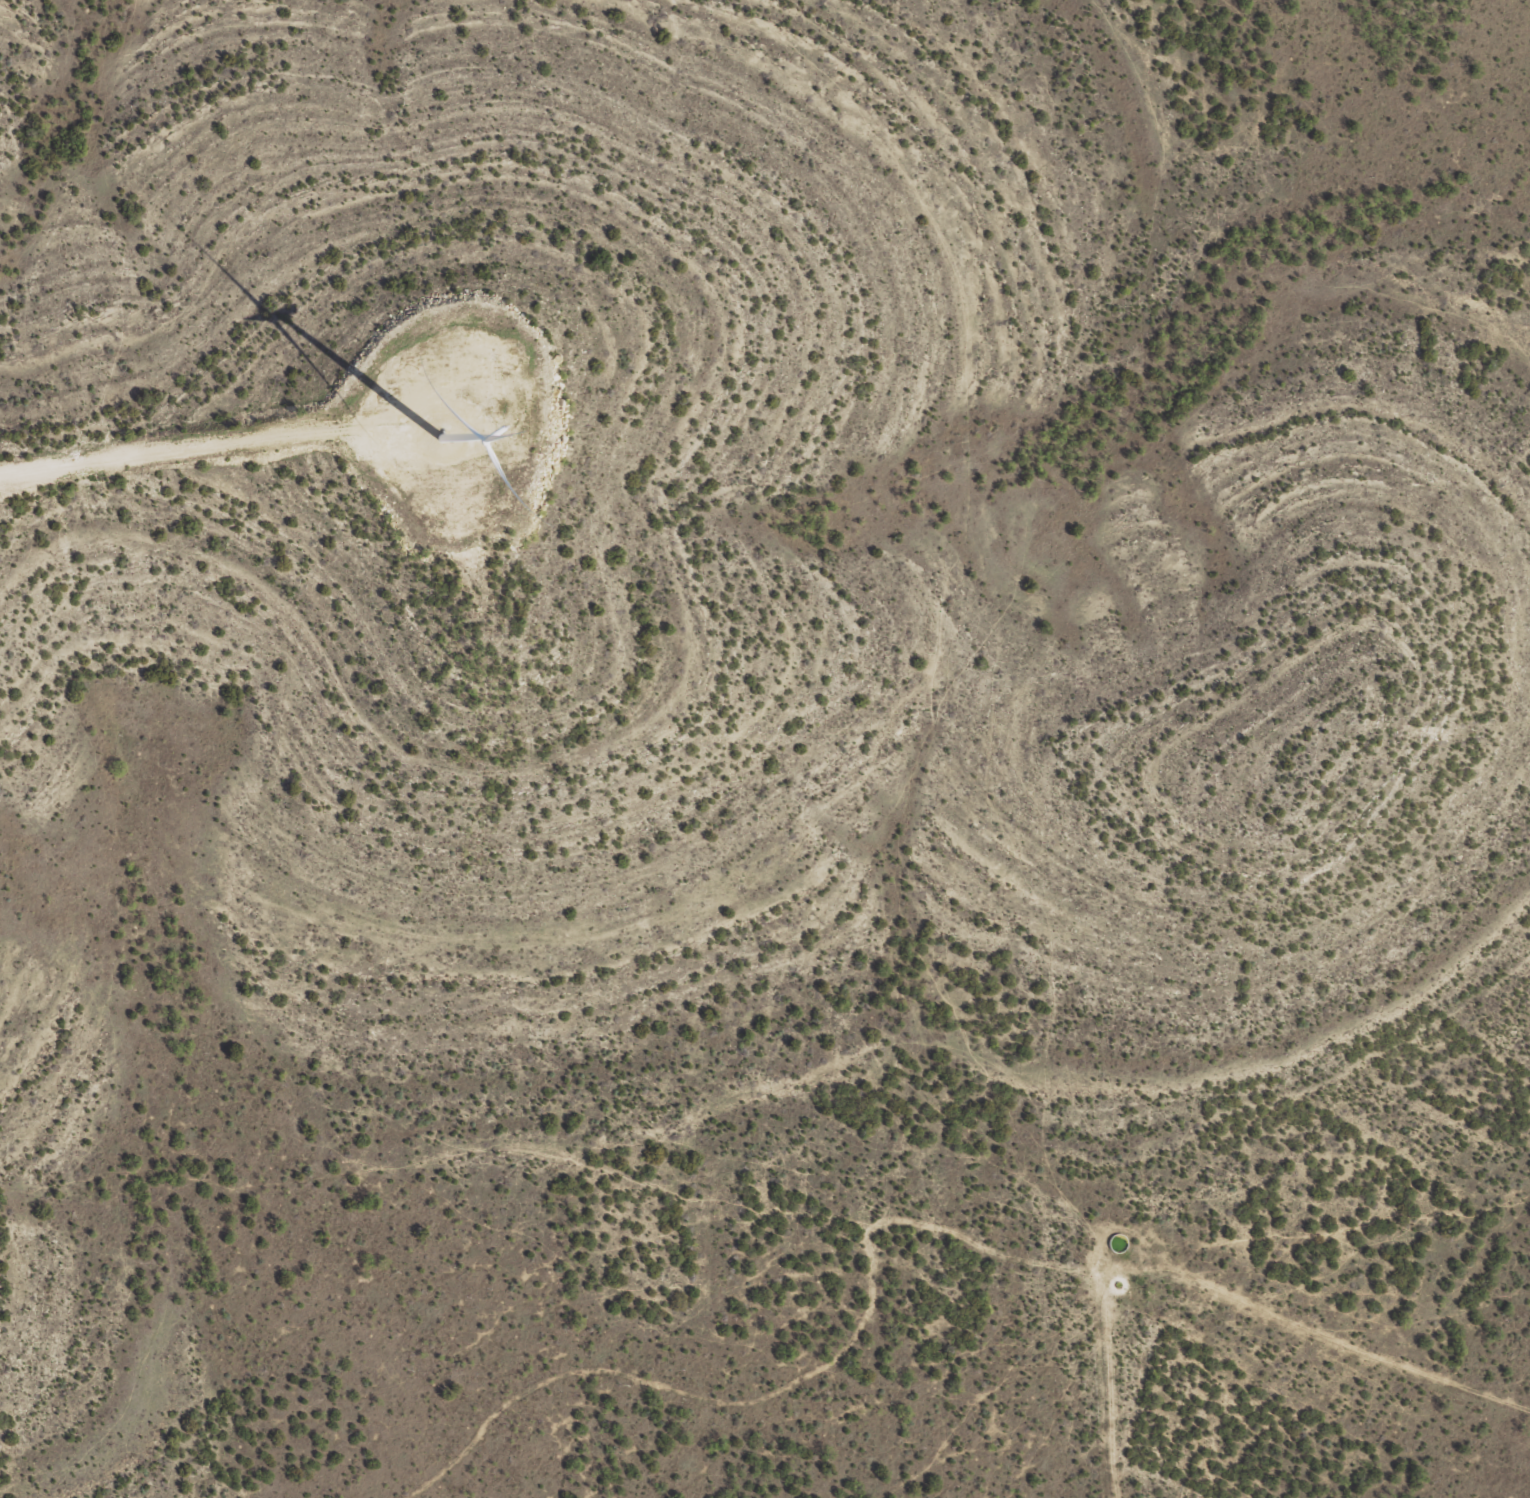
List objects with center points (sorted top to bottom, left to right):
wind turbine: (429, 434)
road: (218, 451)

